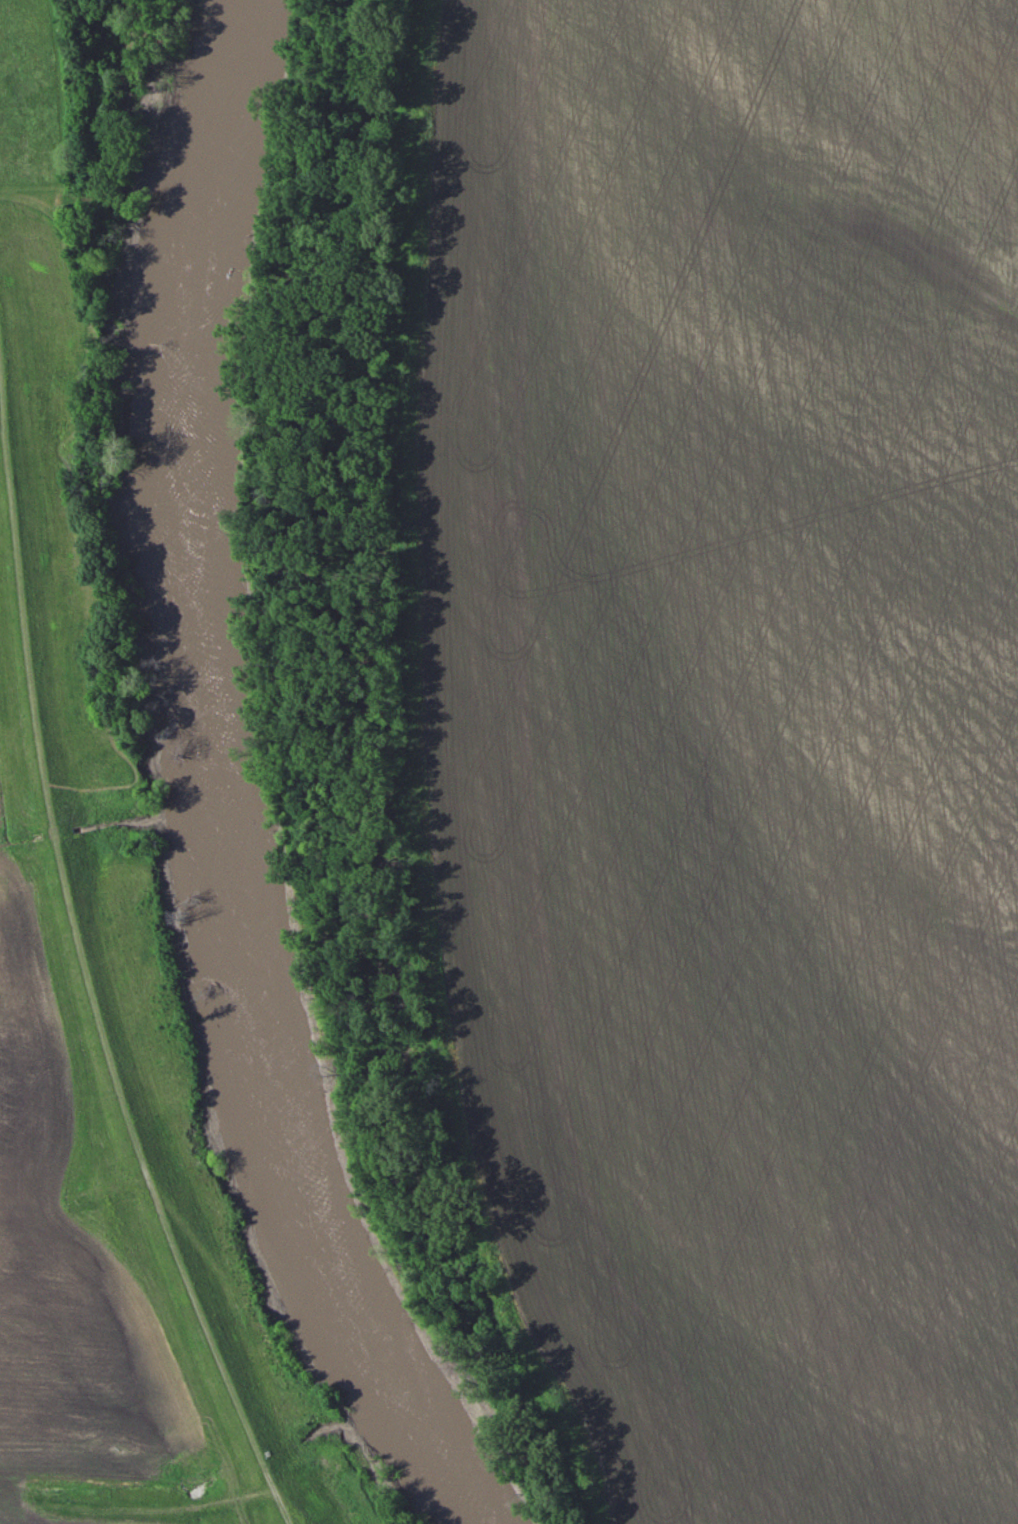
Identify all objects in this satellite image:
river: (214, 782)
crop: (65, 1246)
crop: (115, 1492)

